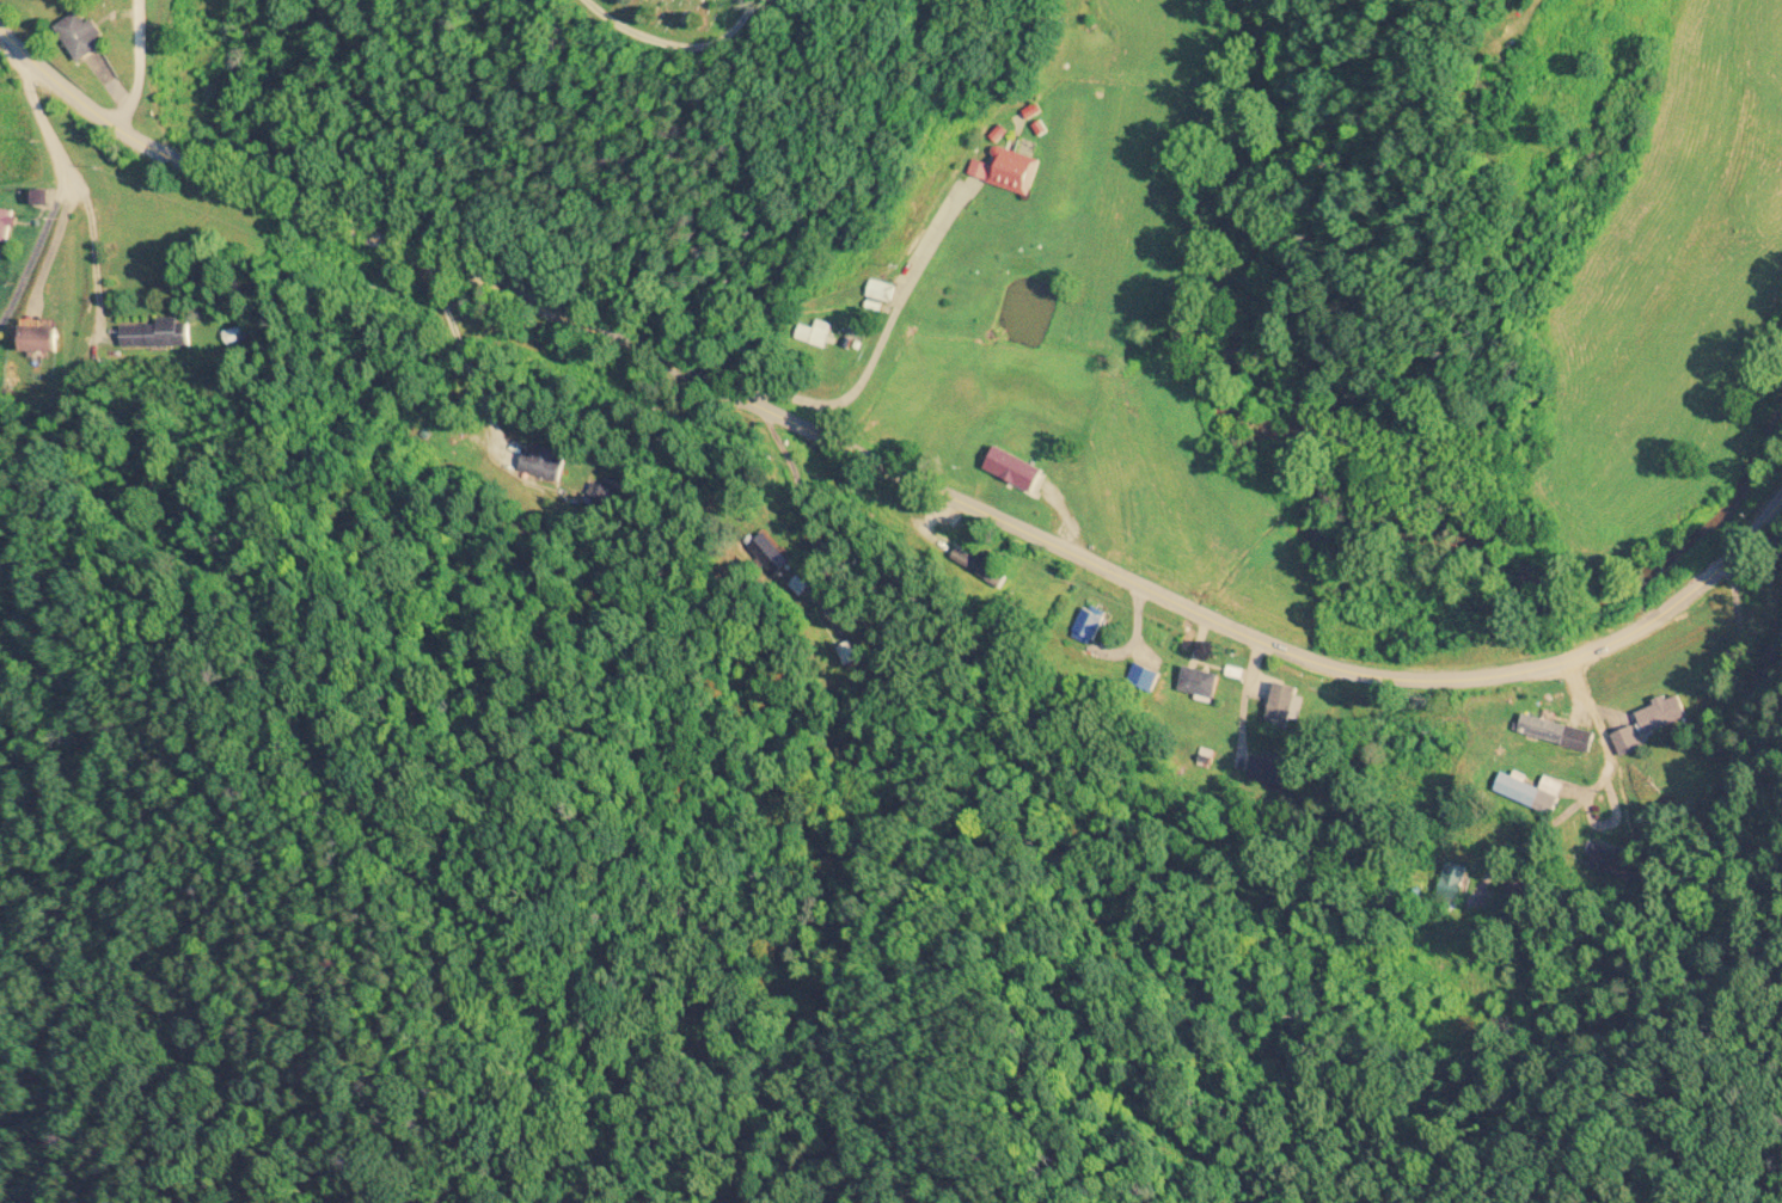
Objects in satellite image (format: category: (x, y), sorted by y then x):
building: (82, 37)
road: (694, 38)
road: (142, 72)
building: (1009, 172)
road: (67, 192)
building: (39, 198)
building: (5, 225)
road: (96, 252)
building: (881, 291)
building: (155, 334)
building: (813, 337)
road: (877, 338)
building: (39, 339)
road: (464, 360)
road: (887, 467)
building: (1200, 682)
building: (1282, 707)
building: (1660, 714)
building: (1554, 734)
building: (1625, 743)
building: (1517, 791)
building: (1452, 878)

